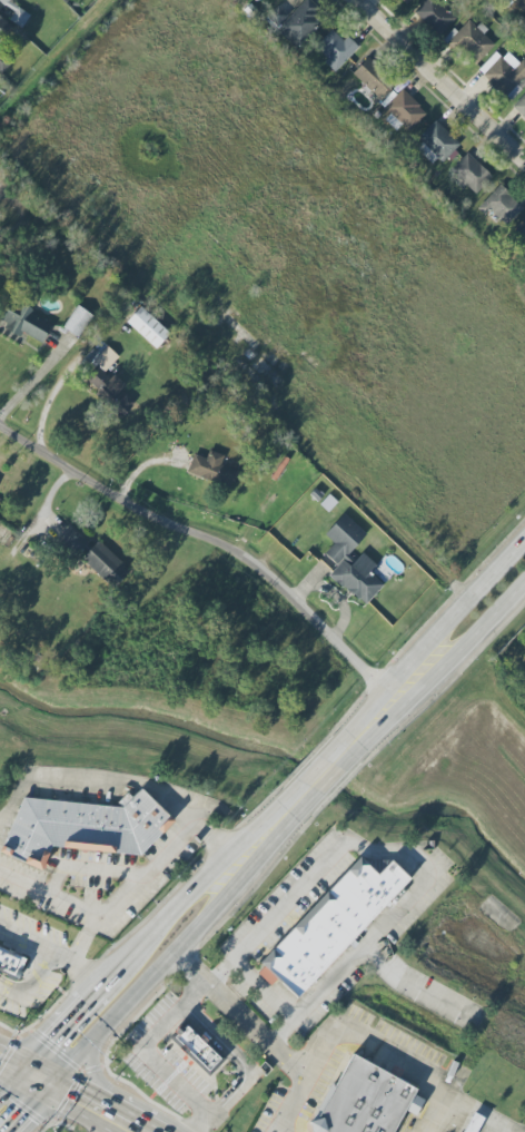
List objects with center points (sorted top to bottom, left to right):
building: (407, 1)
building: (519, 3)
building: (16, 12)
building: (434, 16)
building: (295, 22)
building: (524, 24)
building: (4, 30)
building: (469, 42)
building: (336, 49)
building: (3, 61)
building: (503, 73)
building: (372, 77)
road: (442, 79)
building: (521, 106)
building: (402, 110)
building: (436, 142)
building: (470, 173)
building: (501, 205)
building: (521, 235)
building: (78, 322)
building: (24, 323)
building: (147, 326)
building: (105, 357)
building: (279, 467)
building: (211, 469)
building: (315, 494)
building: (328, 503)
building: (71, 541)
road: (220, 543)
building: (350, 561)
building: (105, 563)
road: (434, 643)
road: (442, 673)
road: (313, 772)
road: (330, 789)
building: (91, 827)
road: (413, 858)
road: (145, 874)
road: (47, 898)
building: (343, 925)
road: (28, 937)
road: (151, 939)
road: (176, 954)
road: (48, 959)
building: (13, 961)
road: (261, 991)
road: (240, 1014)
building: (201, 1045)
road: (389, 1054)
road: (150, 1056)
road: (231, 1056)
road: (11, 1071)
traffic signals: (22, 1076)
road: (304, 1077)
road: (36, 1083)
road: (11, 1087)
traffic signals: (49, 1090)
road: (442, 1099)
building: (370, 1101)
road: (90, 1110)
road: (28, 1111)
road: (450, 1118)
building: (473, 1123)
road: (107, 1126)
road: (470, 1128)
gas station: (50, 1130)
road: (478, 1131)

